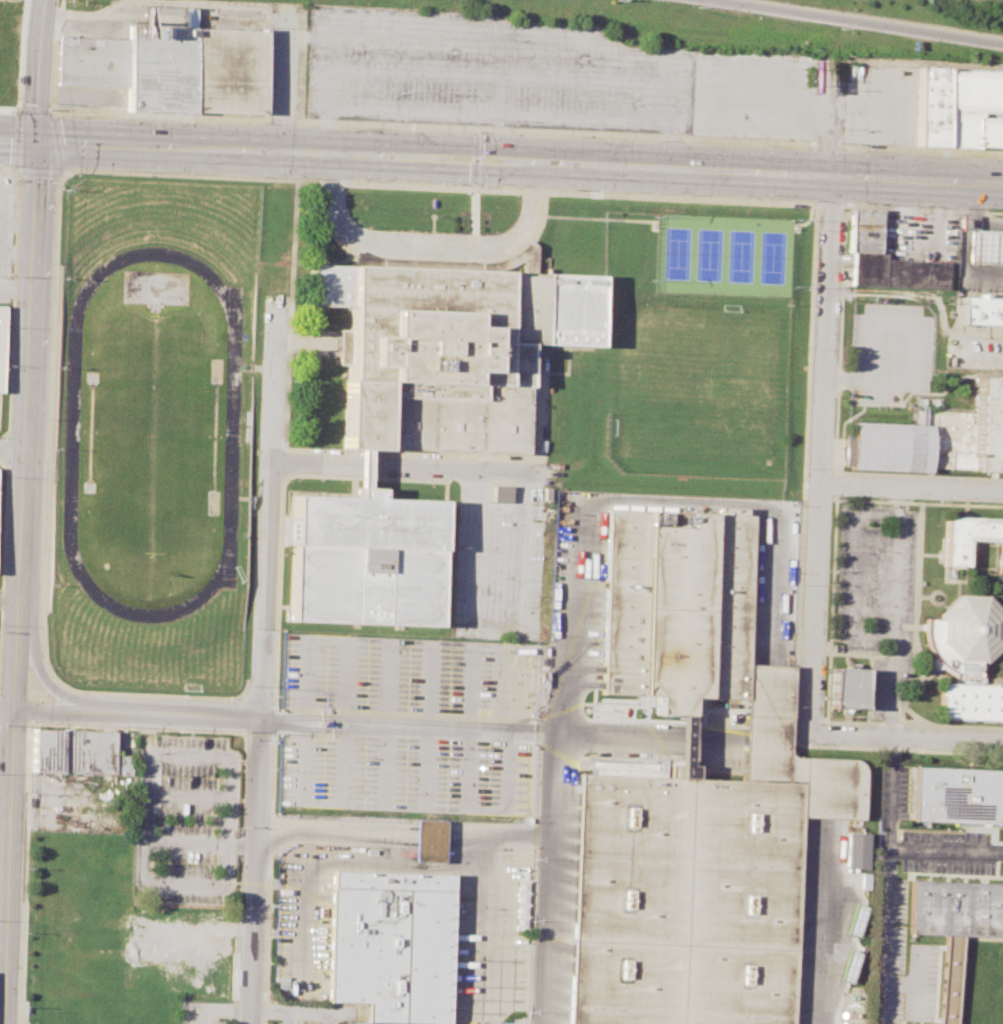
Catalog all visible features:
road: (248, 15)
road: (866, 21)
road: (526, 35)
road: (54, 57)
road: (20, 64)
building: (171, 66)
road: (41, 71)
parking lot: (488, 73)
road: (284, 78)
road: (317, 93)
parking lot: (804, 97)
building: (961, 108)
street lamp: (54, 110)
street lamp: (12, 112)
street lamp: (75, 116)
road: (493, 116)
street lamp: (148, 119)
road: (787, 122)
street lamp: (253, 123)
street lamp: (356, 127)
street lamp: (463, 131)
road: (528, 132)
street lamp: (570, 136)
road: (497, 138)
street lamp: (653, 139)
road: (17, 140)
road: (19, 142)
traffic signals: (38, 143)
road: (57, 144)
road: (708, 144)
street lamp: (760, 145)
street lamp: (858, 150)
road: (905, 153)
street lamp: (965, 155)
road: (435, 157)
street lamp: (146, 172)
road: (39, 173)
street lamp: (74, 173)
street lamp: (252, 175)
road: (918, 179)
street lamp: (356, 180)
street lamp: (446, 184)
street lamp: (567, 189)
street lamp: (648, 192)
street lamp: (344, 193)
street lamp: (759, 198)
street lamp: (517, 199)
road: (964, 202)
road: (808, 203)
road: (816, 203)
road: (830, 203)
street lamp: (855, 203)
street lamp: (957, 207)
road: (922, 208)
flagpole: (431, 216)
road: (471, 219)
street lamp: (366, 228)
street lamp: (408, 230)
street lamp: (816, 230)
street lamp: (451, 232)
street lamp: (494, 232)
building: (865, 232)
parking lot: (921, 237)
road: (945, 239)
road: (962, 247)
road: (427, 248)
building: (984, 248)
gas station: (984, 248)
park: (738, 256)
building: (524, 259)
building: (899, 273)
road: (16, 282)
road: (12, 304)
building: (983, 311)
building: (1, 344)
road: (911, 347)
street lamp: (811, 349)
building: (446, 350)
parking lot: (892, 351)
building: (992, 359)
road: (29, 372)
park: (695, 388)
park: (151, 435)
track: (230, 435)
building: (933, 438)
road: (284, 443)
road: (12, 452)
road: (823, 454)
road: (400, 468)
street lamp: (807, 468)
road: (918, 475)
road: (834, 483)
road: (912, 487)
building: (500, 493)
street lamp: (837, 495)
road: (806, 499)
road: (818, 499)
street lamp: (943, 501)
road: (915, 502)
street lamp: (878, 504)
road: (911, 504)
road: (45, 531)
building: (970, 538)
street lamp: (876, 550)
building: (362, 558)
road: (853, 573)
street lamp: (802, 584)
road: (915, 588)
road: (930, 594)
parking lot: (875, 596)
road: (576, 597)
road: (922, 597)
road: (10, 602)
street lamp: (873, 603)
building: (678, 607)
road: (892, 613)
road: (914, 620)
street lamp: (1, 624)
road: (277, 628)
road: (834, 636)
street lamp: (868, 653)
road: (826, 655)
road: (876, 655)
building: (966, 656)
road: (261, 659)
road: (896, 661)
street lamp: (50, 664)
road: (869, 667)
road: (915, 672)
road: (40, 676)
road: (990, 678)
road: (991, 679)
parking lot: (426, 685)
building: (846, 688)
road: (826, 695)
street lamp: (156, 697)
road: (903, 698)
street lamp: (229, 700)
street lamp: (869, 705)
street lamp: (797, 706)
road: (8, 707)
road: (846, 711)
road: (899, 713)
road: (137, 714)
flagpole: (856, 716)
flagpole: (860, 716)
road: (845, 717)
road: (845, 720)
road: (499, 726)
road: (133, 728)
road: (908, 740)
street lamp: (923, 748)
building: (76, 752)
street lamp: (900, 762)
street lamp: (269, 769)
building: (958, 793)
road: (13, 813)
parking lot: (185, 820)
road: (333, 829)
road: (428, 832)
road: (498, 835)
building: (428, 841)
road: (239, 844)
building: (854, 850)
road: (945, 851)
road: (340, 861)
street lamp: (1002, 862)
street lamp: (895, 863)
street lamp: (265, 878)
road: (139, 880)
road: (886, 881)
road: (253, 882)
building: (684, 901)
building: (520, 904)
building: (955, 907)
building: (854, 921)
street lamp: (893, 924)
road: (489, 925)
road: (823, 925)
parking lot: (299, 928)
building: (388, 944)
road: (4, 956)
building: (848, 966)
street lamp: (262, 990)
road: (221, 1007)
road: (269, 1010)
parking lot: (205, 1014)
road: (305, 1015)
street lamp: (308, 1020)
parking lot: (297, 1021)
road: (22, 1023)

